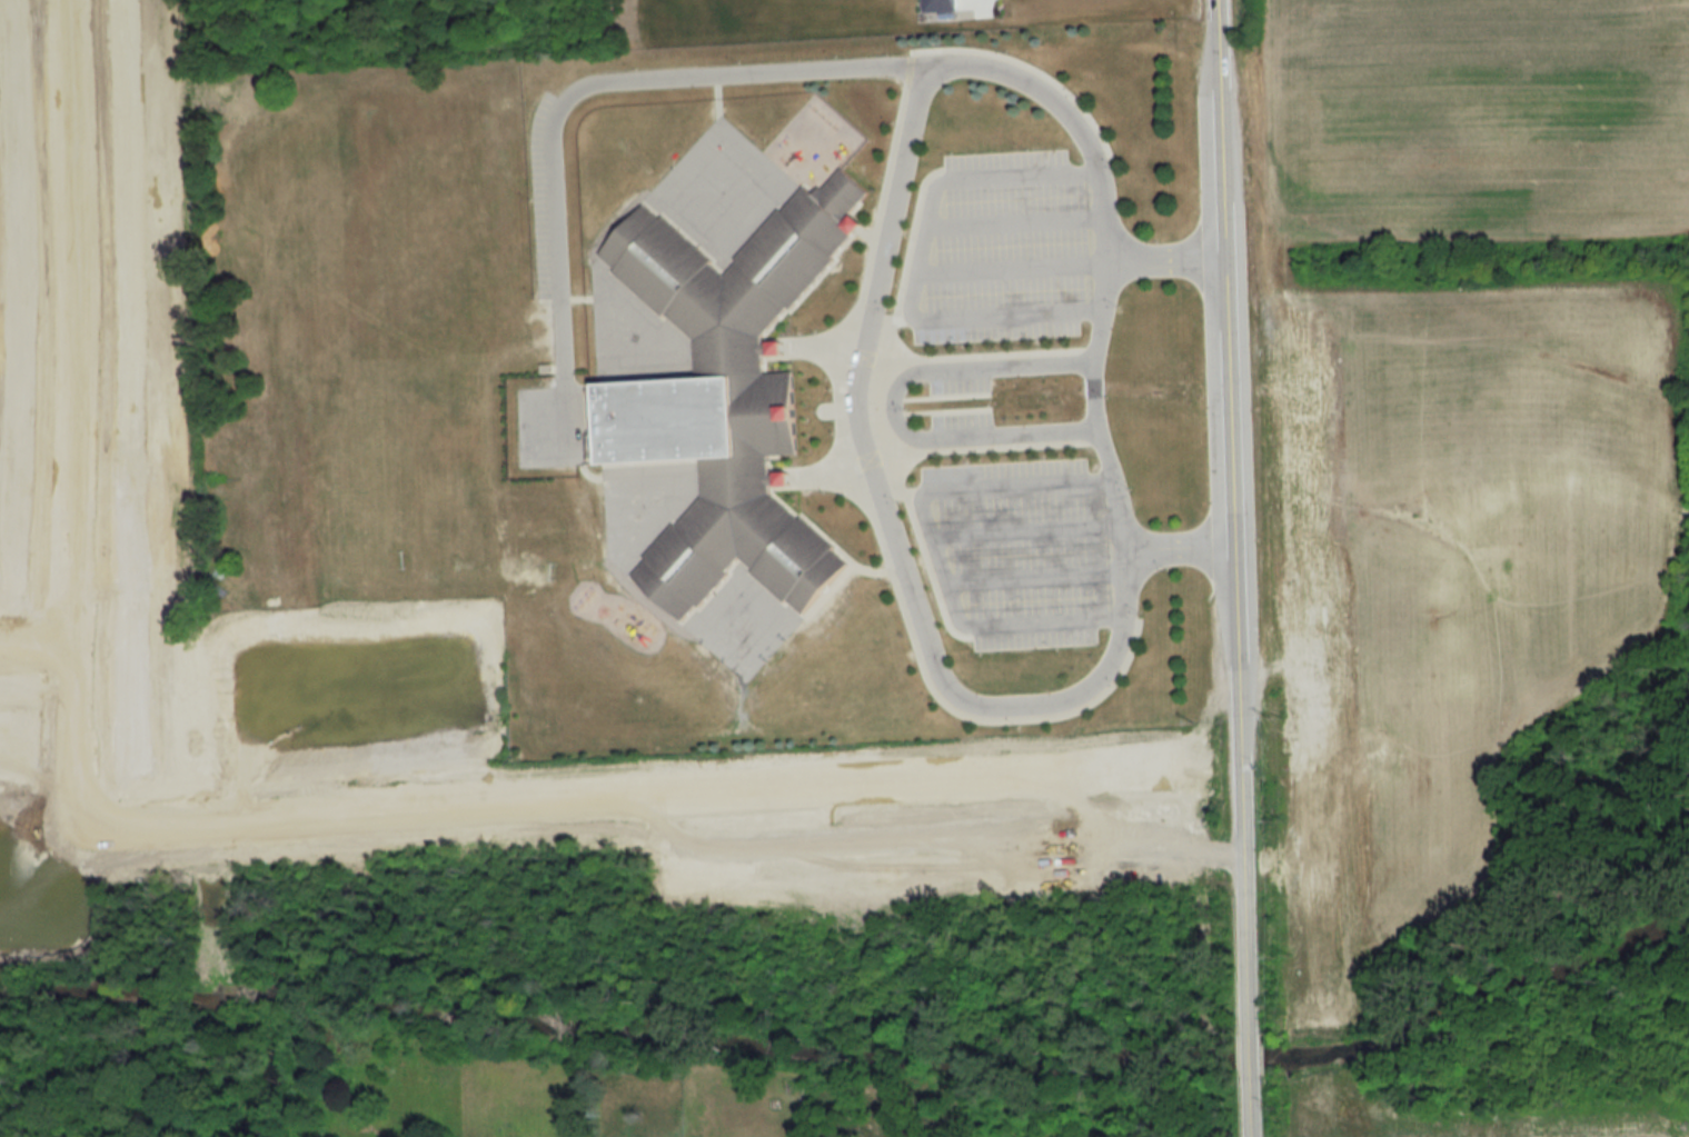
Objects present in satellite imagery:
road: (801, 69)
crop: (1473, 119)
road: (1012, 221)
road: (913, 267)
road: (1009, 267)
building: (723, 395)
road: (892, 406)
road: (78, 409)
road: (1023, 532)
road: (1180, 546)
road: (930, 549)
crop: (1450, 561)
road: (1239, 568)
road: (1032, 578)
road: (37, 645)
road: (937, 664)
road: (886, 779)
road: (305, 817)

